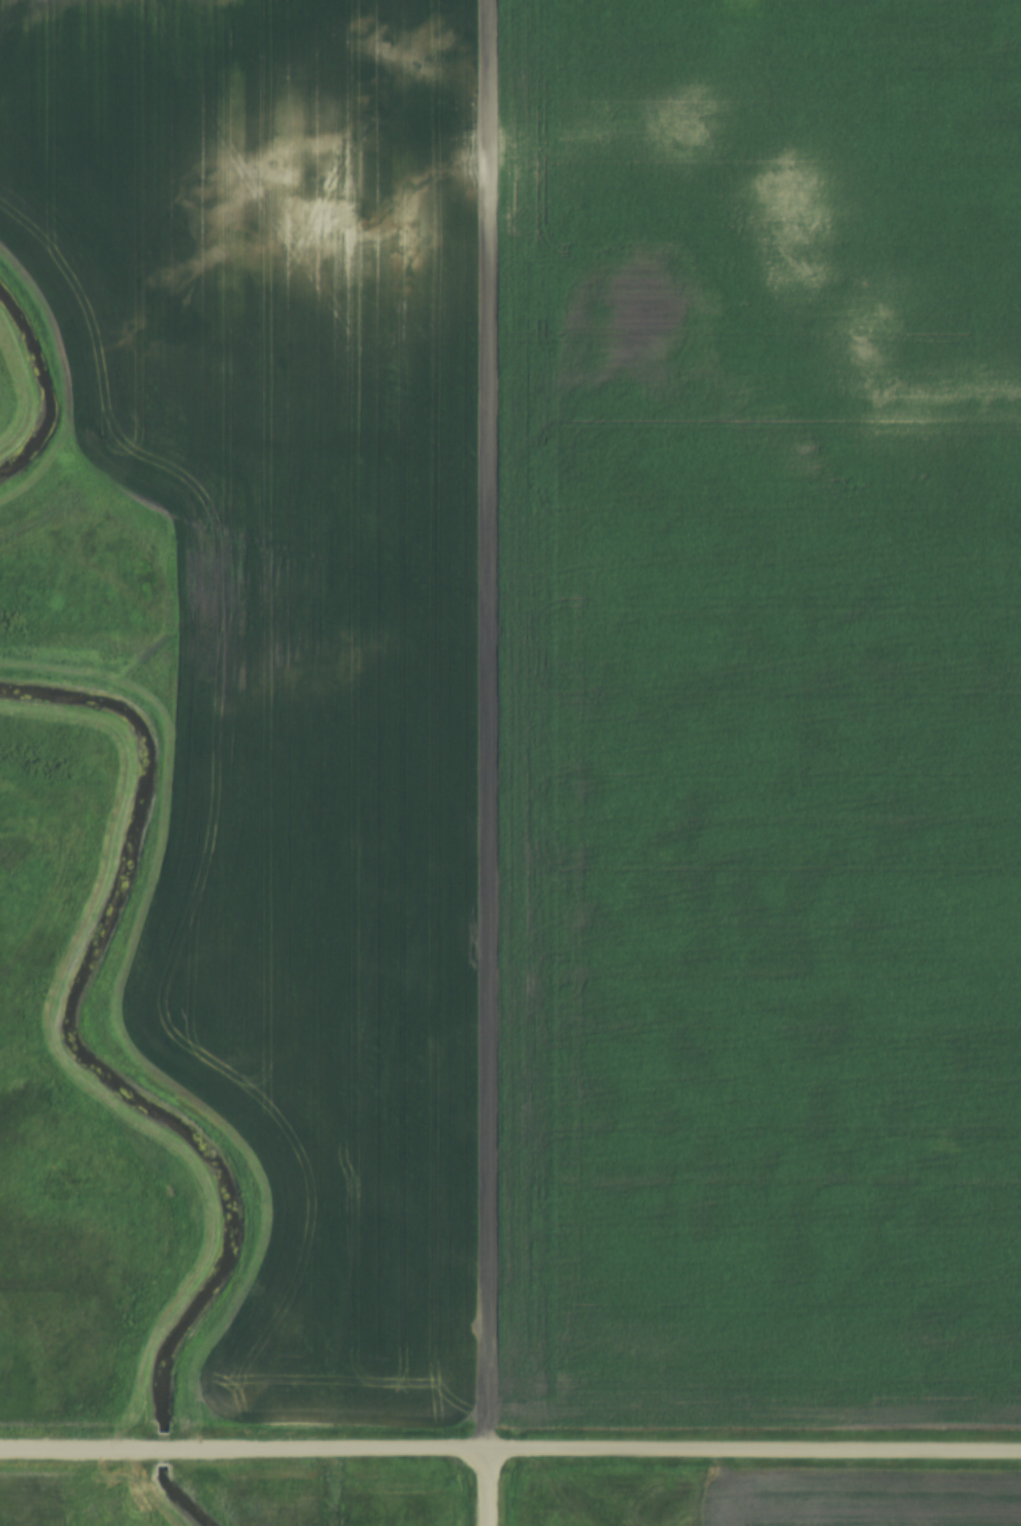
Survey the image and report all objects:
building: (475, 540)
road: (489, 728)
road: (510, 1457)
road: (489, 1491)

